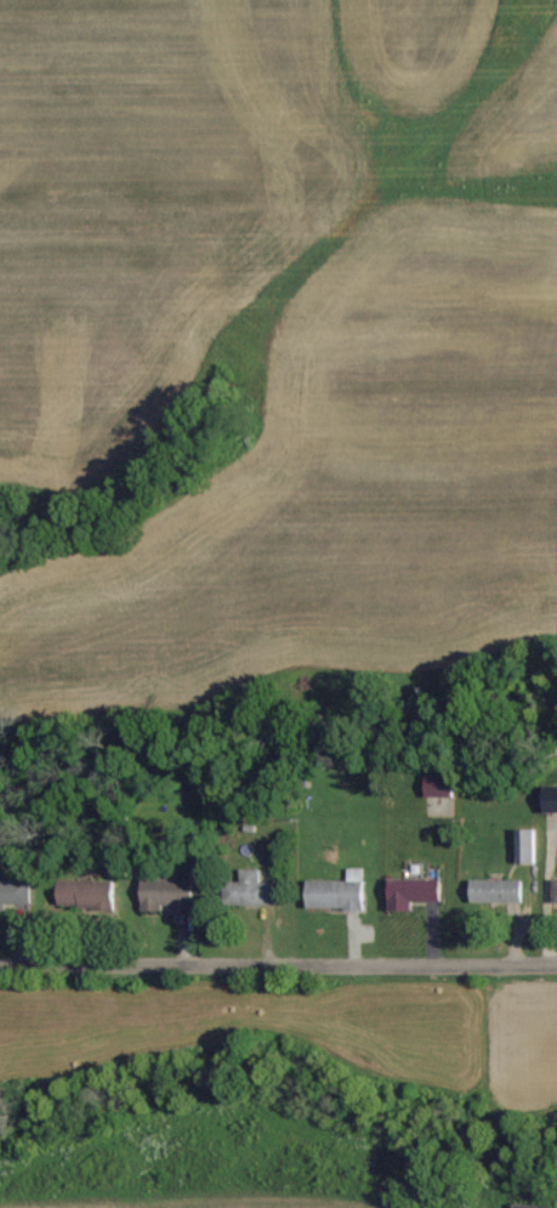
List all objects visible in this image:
building: (441, 788)
building: (551, 800)
building: (527, 846)
building: (252, 891)
building: (555, 891)
building: (15, 892)
building: (498, 892)
building: (337, 894)
building: (414, 894)
building: (169, 895)
building: (89, 896)
road: (278, 958)
building: (533, 1207)

